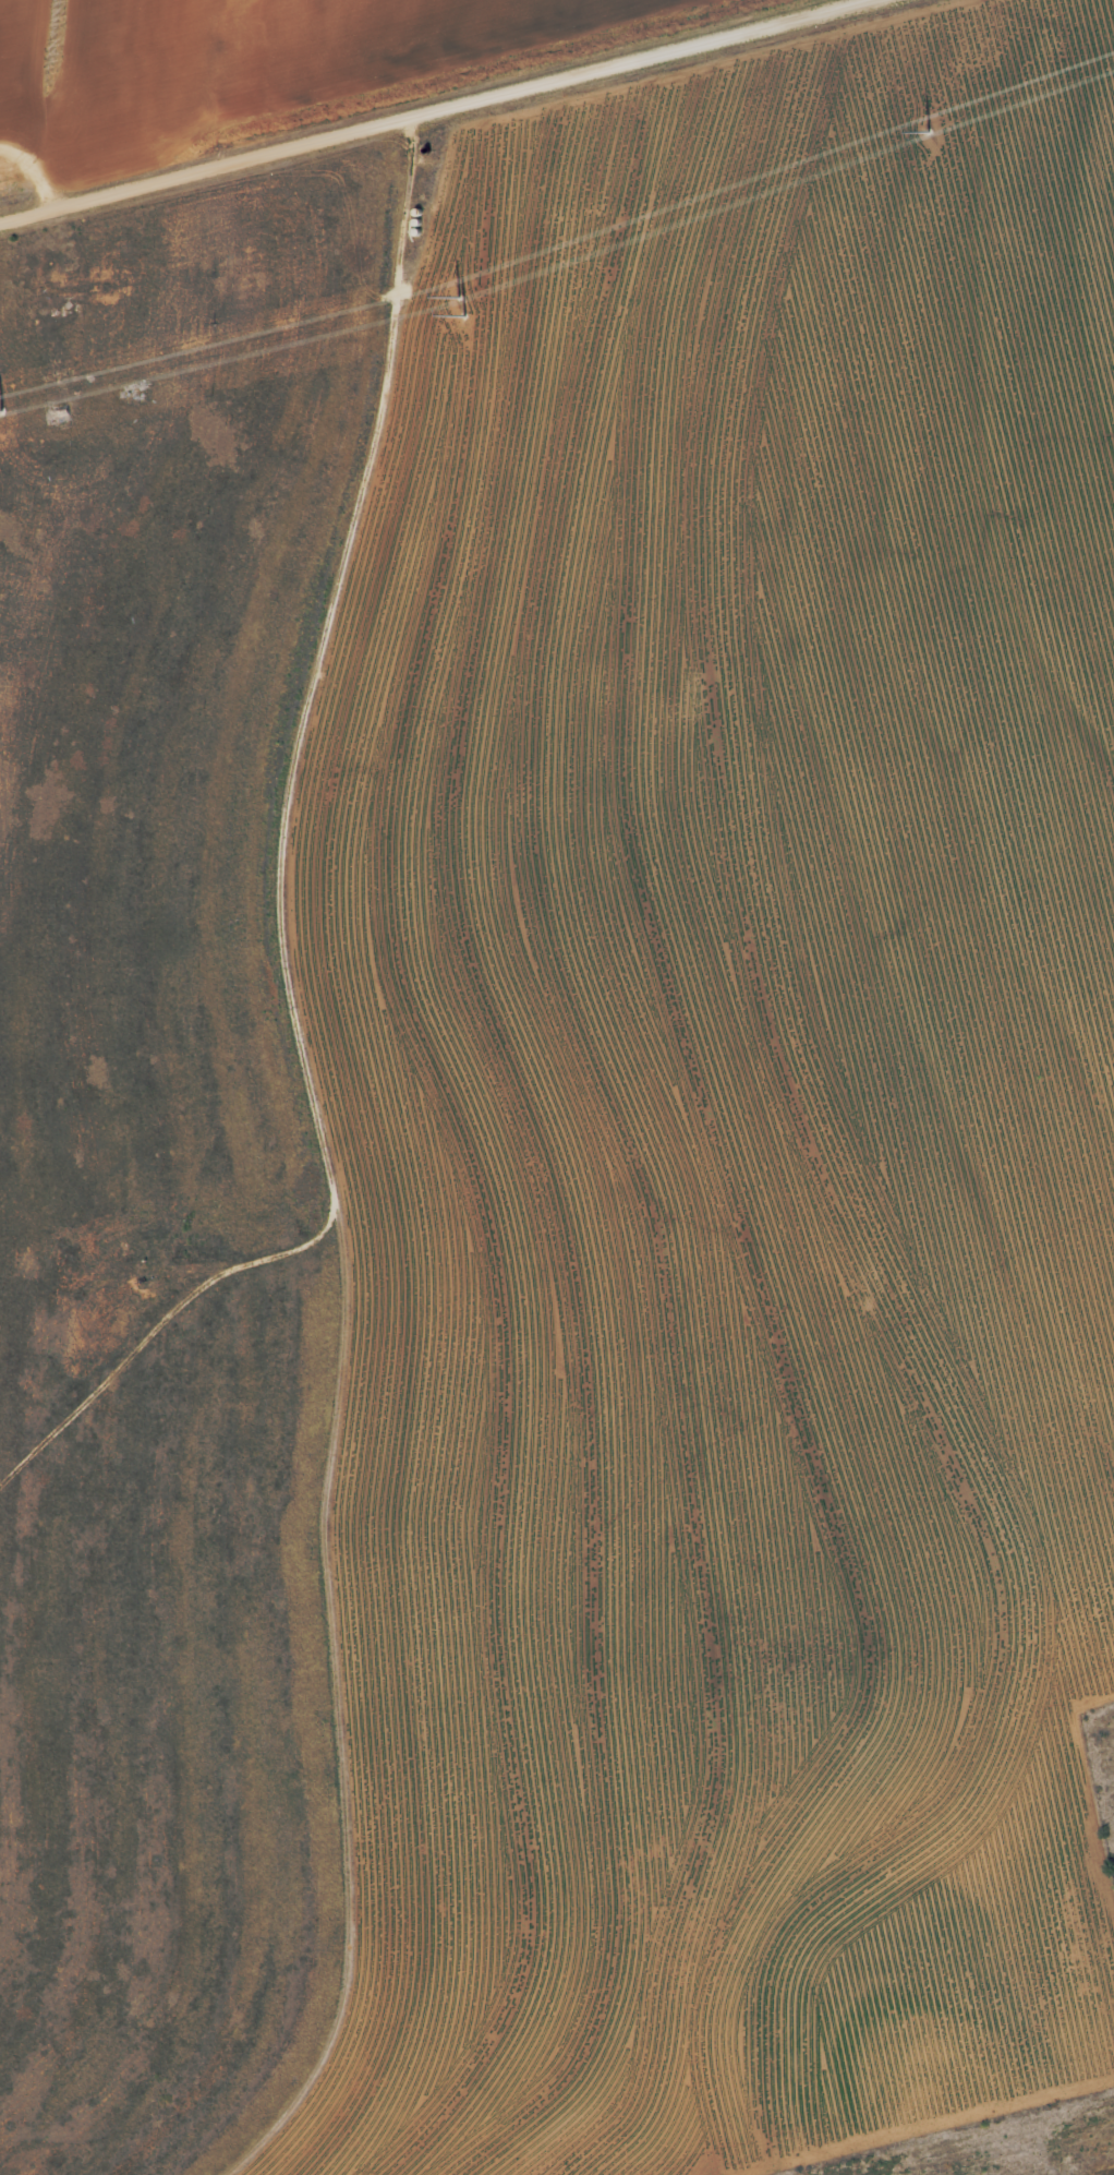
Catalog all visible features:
road: (415, 113)
power tower: (929, 132)
power tower: (462, 308)
power tower: (3, 410)
road: (332, 1154)

